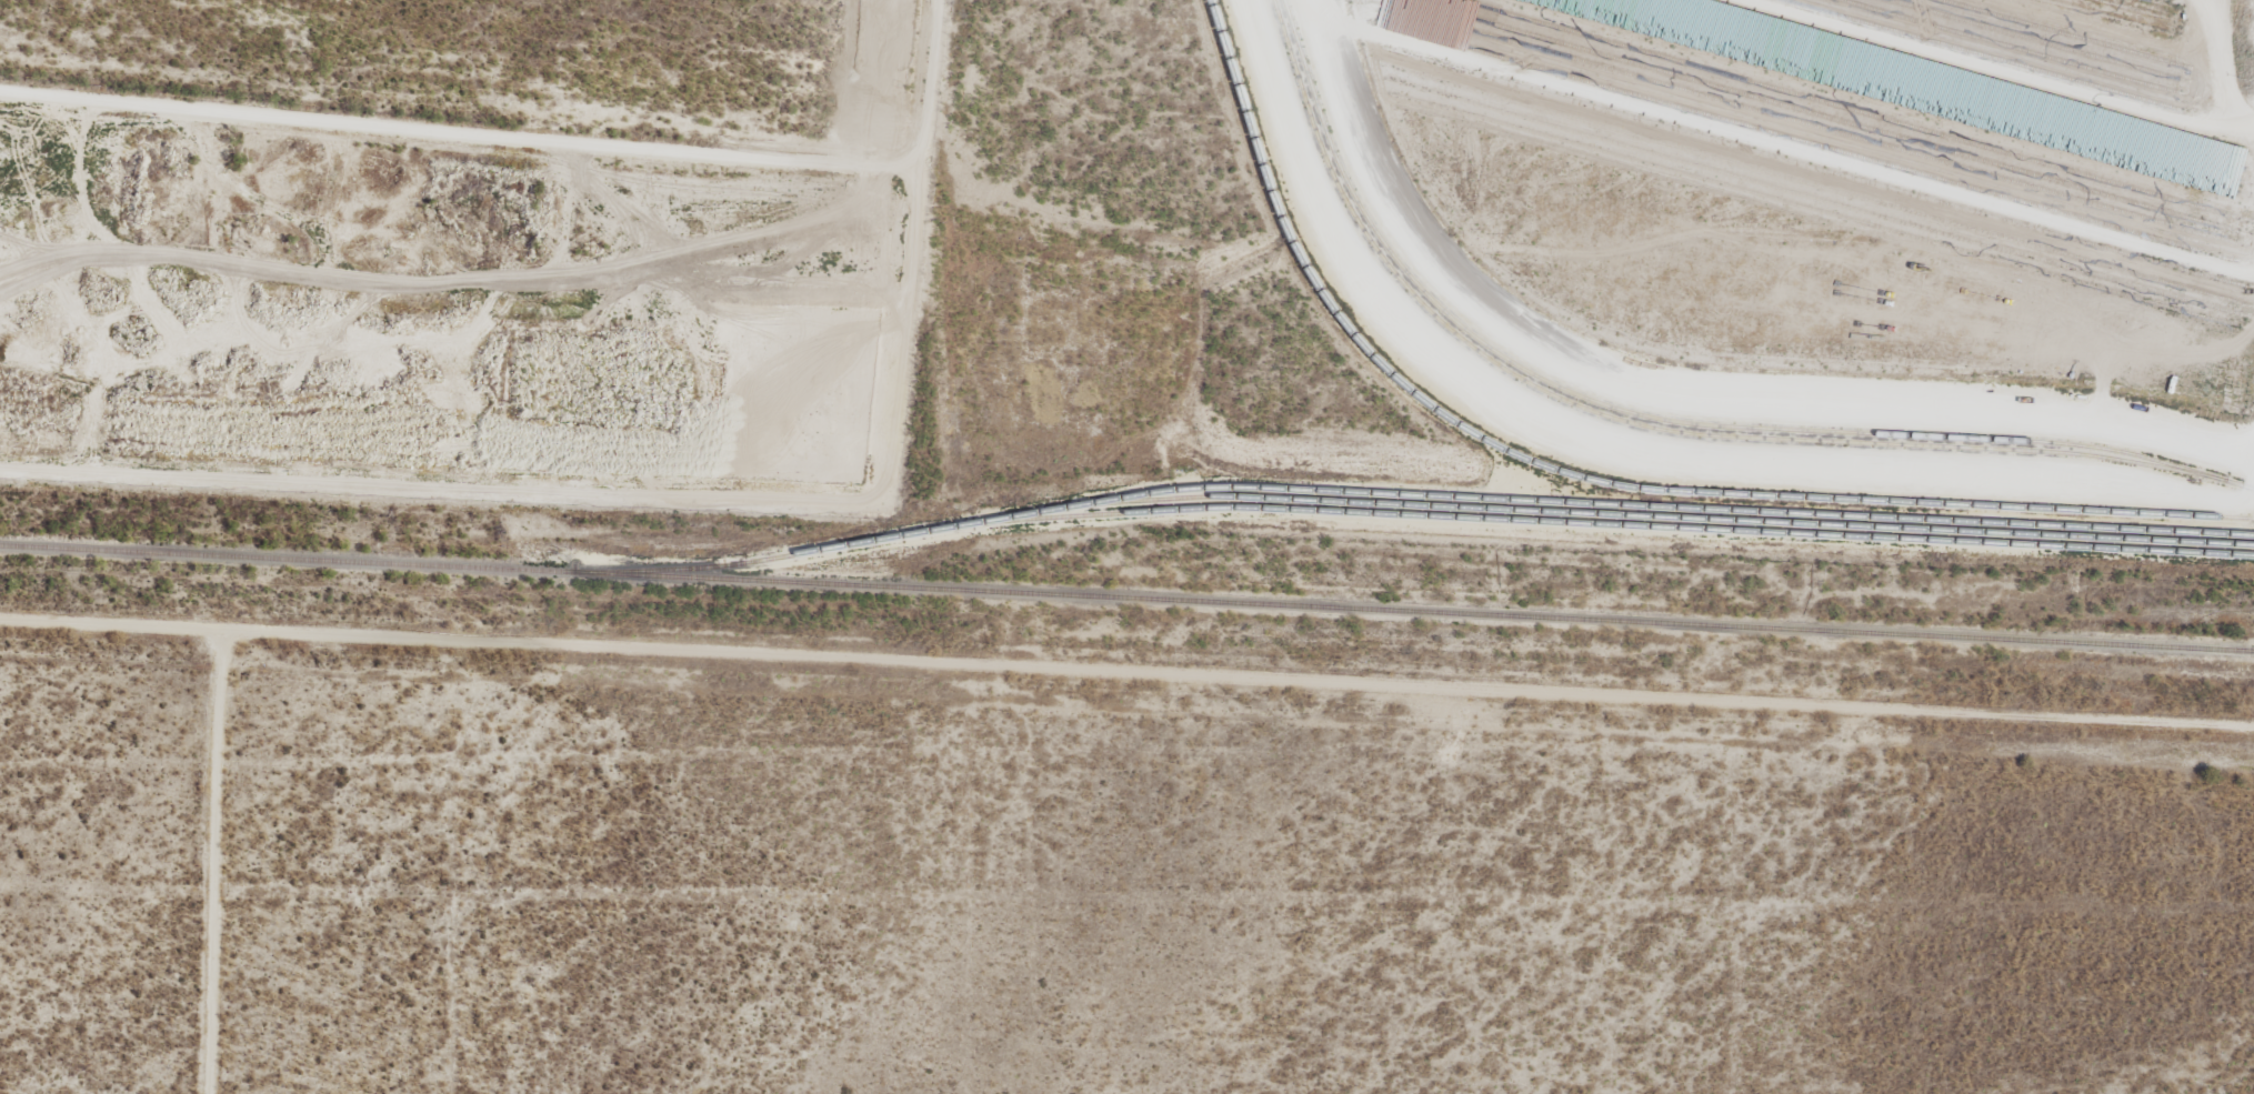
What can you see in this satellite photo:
railway: (1126, 598)
road: (1126, 673)
road: (218, 862)

